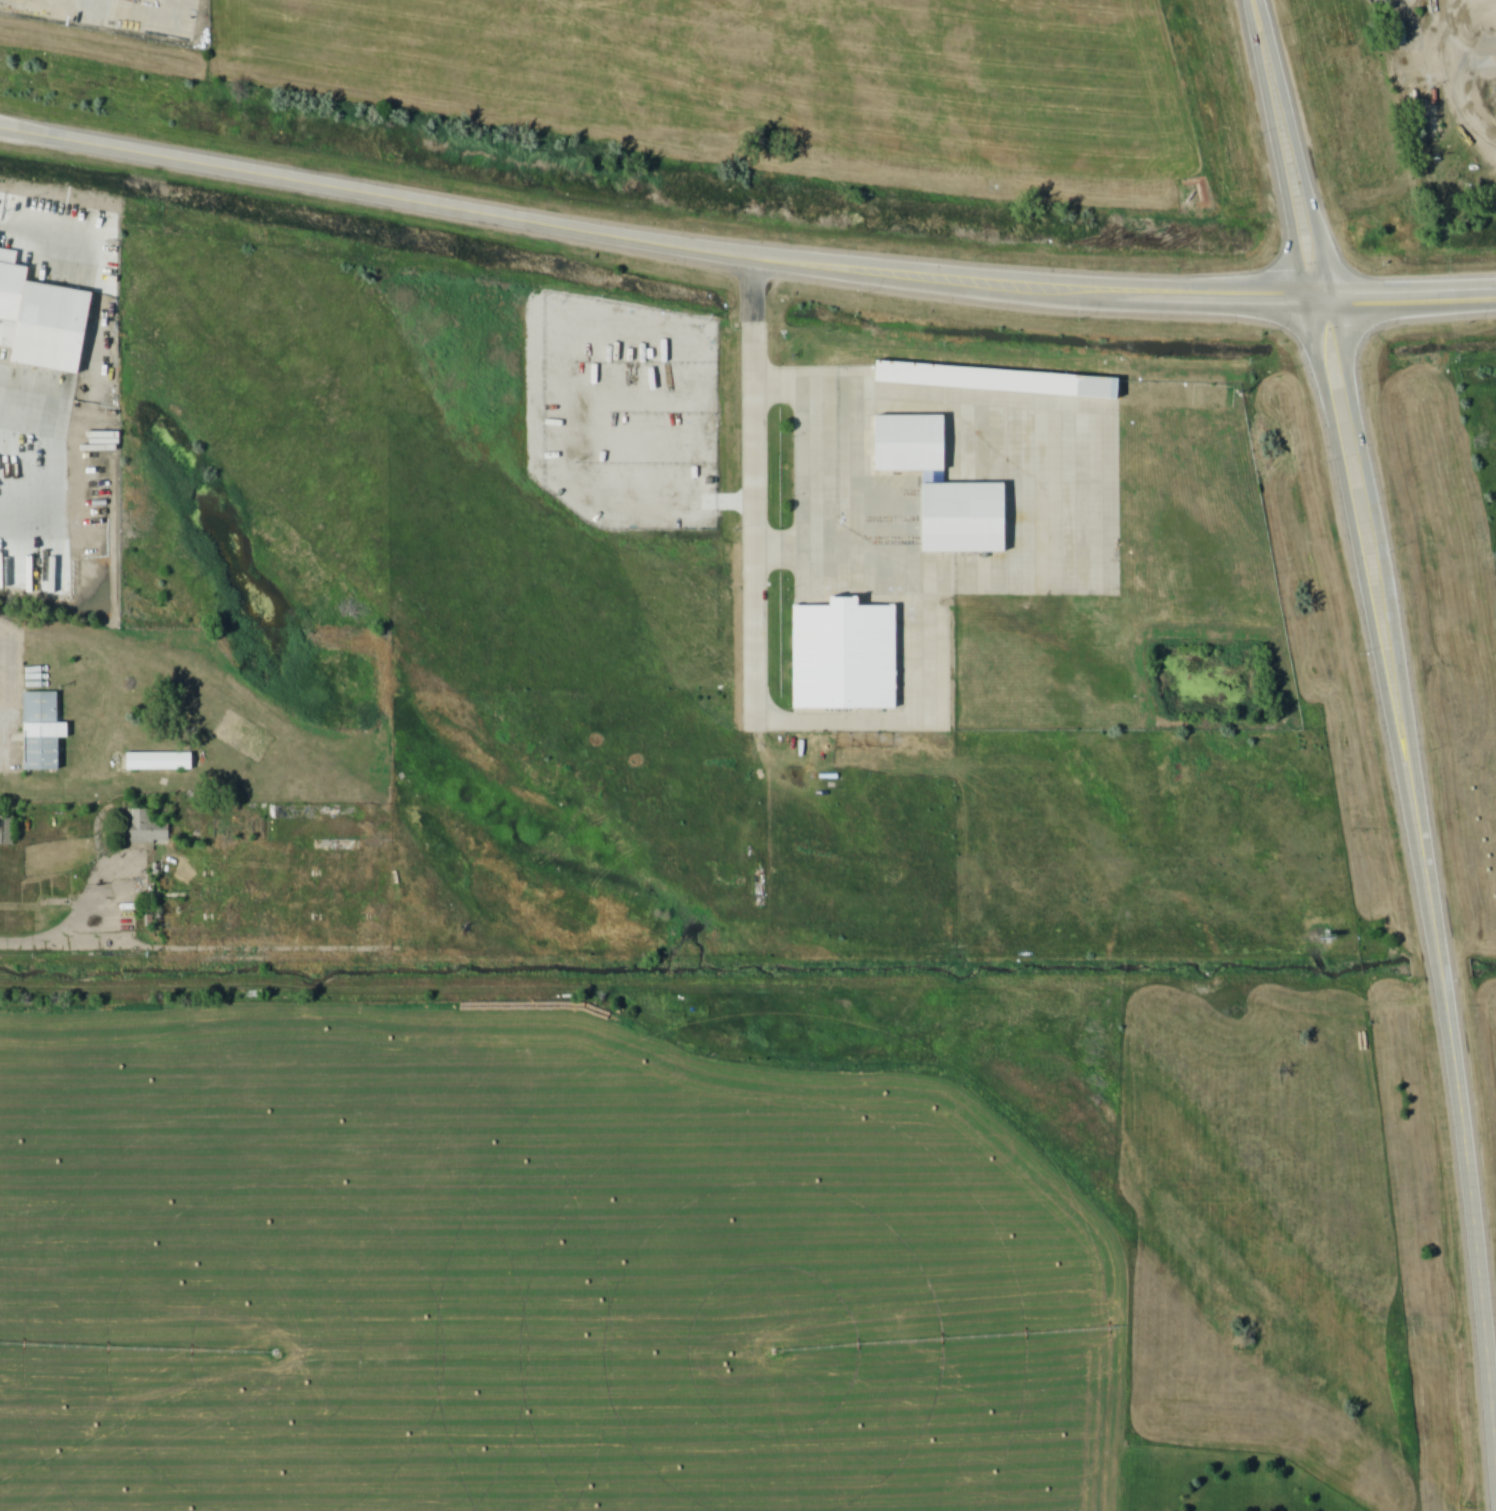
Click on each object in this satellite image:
building: (1396, 33)
road: (1277, 150)
road: (1297, 150)
road: (151, 155)
road: (801, 263)
road: (1400, 298)
building: (44, 319)
building: (997, 381)
road: (861, 404)
road: (66, 436)
building: (912, 444)
building: (966, 518)
road: (1384, 571)
road: (1360, 573)
building: (845, 656)
building: (46, 733)
road: (7, 748)
building: (160, 761)
building: (148, 828)
building: (7, 830)
road: (87, 931)
road: (1467, 1144)
crop: (529, 1273)

